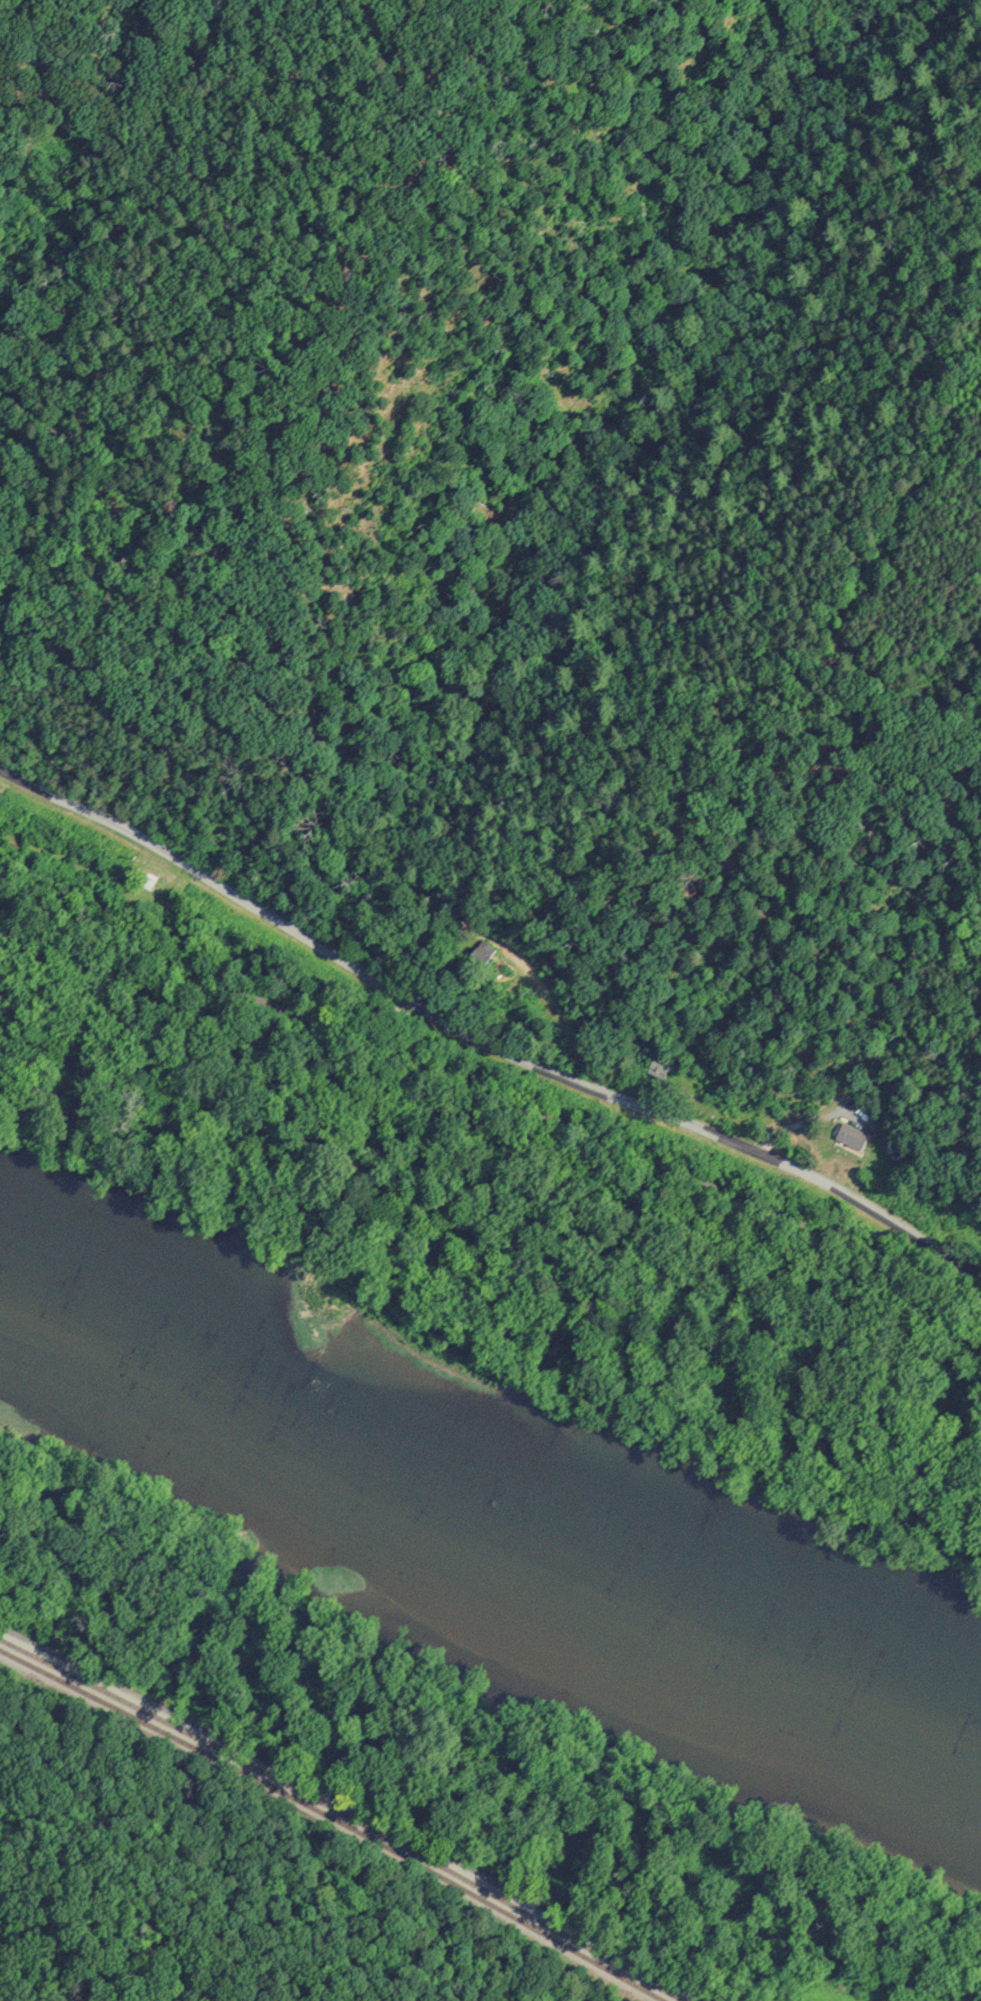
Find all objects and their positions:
road: (205, 876)
building: (481, 952)
road: (196, 974)
road: (413, 1001)
road: (401, 1059)
building: (654, 1065)
road: (186, 1084)
park: (527, 1127)
road: (705, 1131)
building: (846, 1135)
road: (377, 1179)
road: (696, 1180)
road: (678, 1323)
river: (494, 1496)
road: (351, 1810)
railway: (342, 1815)
railway: (332, 1820)

